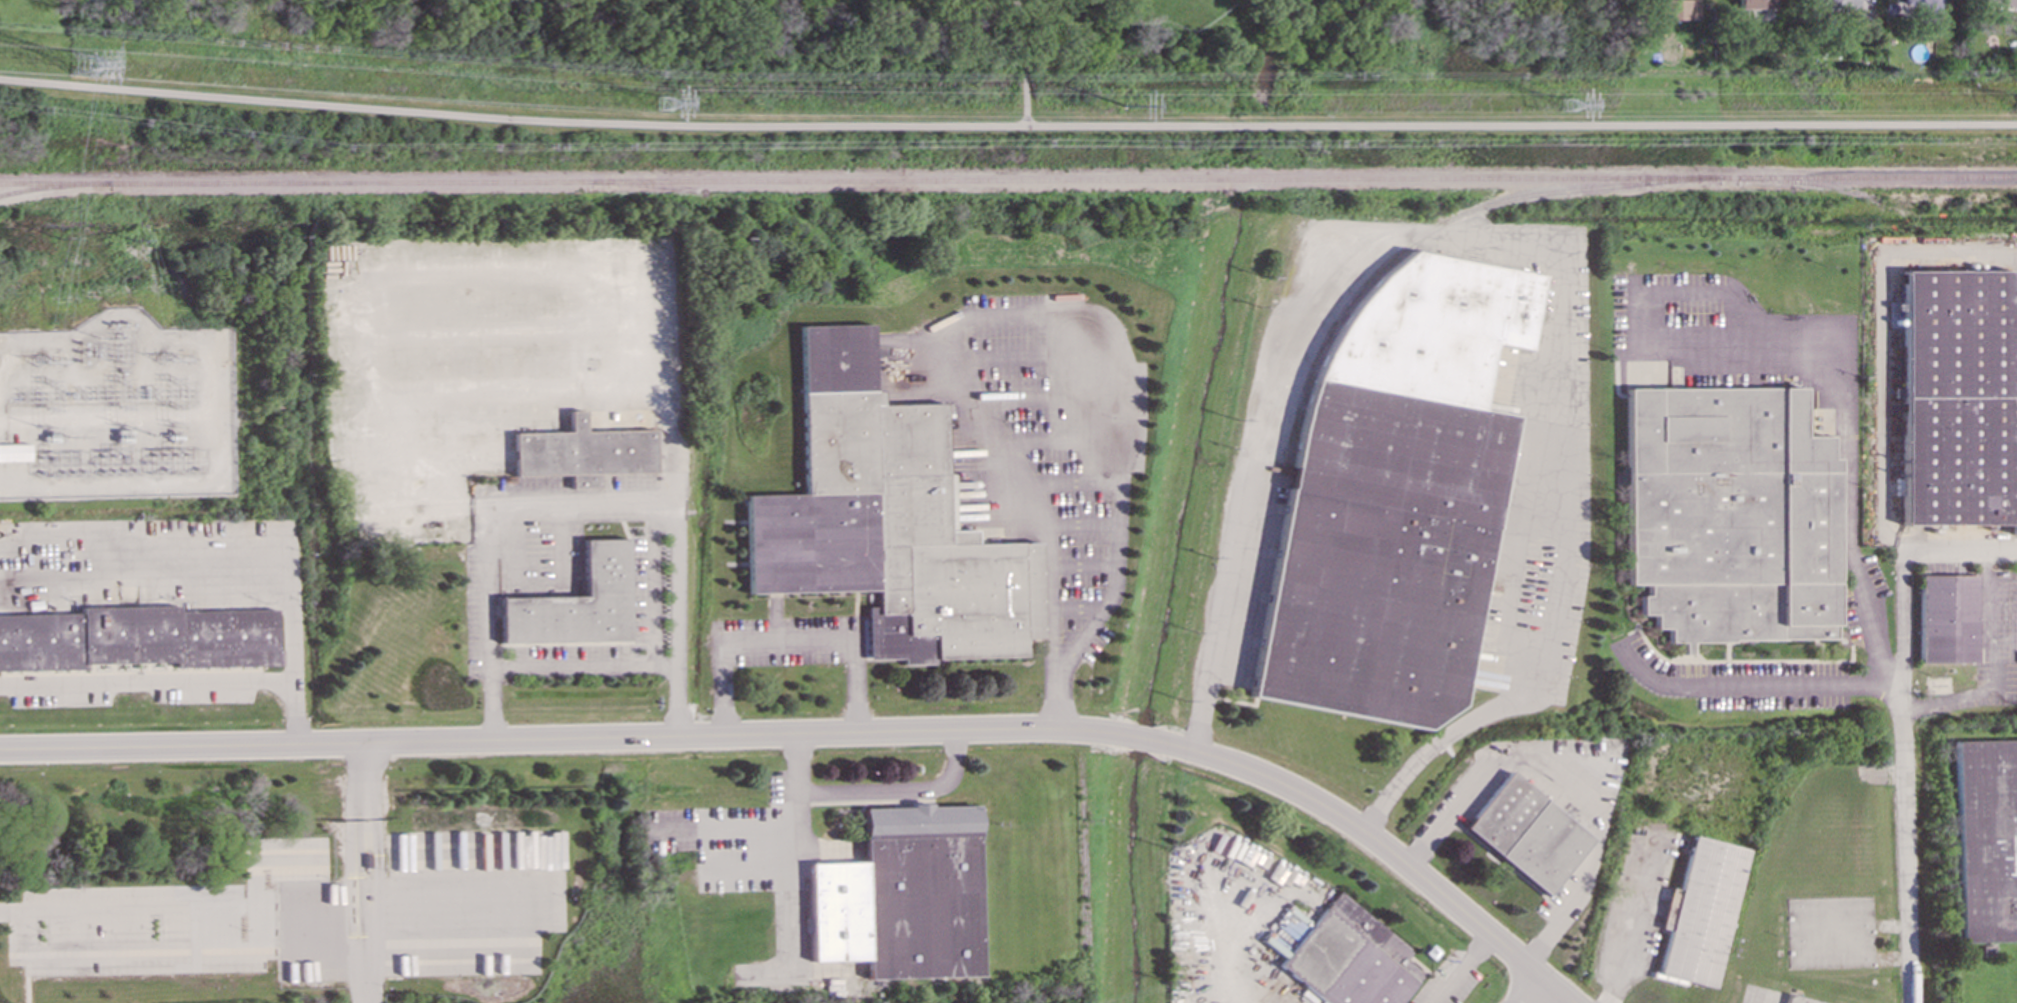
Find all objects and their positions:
building: (2004, 2)
building: (1755, 4)
building: (1922, 8)
building: (1679, 9)
park: (1154, 11)
park: (965, 25)
road: (1025, 62)
power tower: (85, 65)
power tower: (665, 105)
power tower: (1570, 107)
power tower: (1124, 108)
road: (1007, 126)
railway: (1304, 180)
railway: (295, 184)
railway: (54, 186)
railway: (1437, 229)
road: (1524, 253)
road: (487, 279)
road: (1696, 289)
road: (491, 333)
building: (530, 362)
road: (513, 390)
building: (1957, 398)
power substation: (117, 411)
road: (1847, 412)
building: (443, 426)
building: (14, 452)
building: (582, 452)
road: (1052, 484)
building: (1395, 498)
building: (1728, 515)
building: (885, 520)
road: (241, 541)
road: (1907, 584)
road: (651, 588)
building: (574, 603)
building: (1948, 618)
road: (488, 627)
building: (137, 637)
road: (1079, 639)
road: (786, 643)
road: (1996, 665)
road: (582, 668)
road: (146, 685)
road: (1755, 687)
road: (1059, 697)
road: (1146, 740)
road: (569, 742)
road: (362, 778)
road: (1569, 786)
road: (871, 794)
road: (797, 824)
building: (1527, 833)
building: (1986, 839)
road: (1378, 846)
road: (1909, 864)
road: (373, 875)
road: (354, 876)
building: (902, 895)
building: (1702, 912)
road: (1632, 923)
building: (1349, 958)
road: (1460, 969)
road: (366, 973)
road: (1528, 989)
building: (1799, 999)

